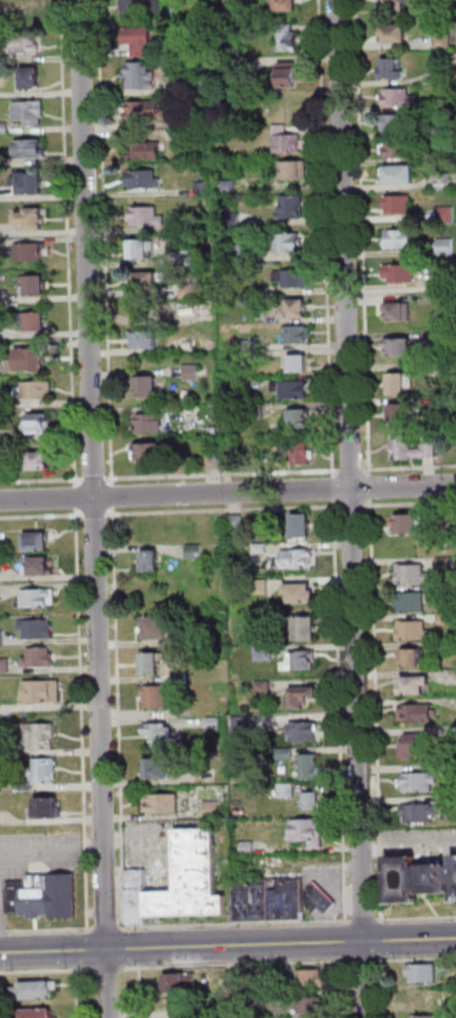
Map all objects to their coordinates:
building: (233, 3)
building: (287, 6)
building: (395, 6)
building: (139, 8)
building: (440, 10)
building: (23, 12)
building: (396, 36)
building: (288, 39)
building: (444, 41)
building: (141, 42)
building: (26, 44)
building: (395, 70)
building: (290, 74)
building: (141, 77)
building: (444, 78)
building: (32, 79)
building: (199, 83)
building: (400, 97)
building: (439, 105)
building: (30, 112)
building: (145, 112)
building: (397, 124)
building: (4, 129)
building: (441, 131)
building: (182, 138)
building: (287, 141)
building: (400, 149)
building: (31, 150)
building: (148, 152)
building: (440, 156)
building: (297, 172)
building: (401, 176)
building: (145, 179)
building: (445, 180)
building: (32, 185)
building: (230, 188)
building: (205, 189)
building: (400, 204)
building: (293, 209)
building: (447, 213)
building: (147, 217)
building: (32, 221)
building: (233, 222)
road: (328, 239)
road: (364, 239)
building: (401, 240)
building: (288, 242)
road: (70, 243)
road: (107, 243)
building: (447, 247)
building: (143, 251)
building: (238, 252)
building: (30, 253)
building: (191, 258)
building: (401, 274)
building: (294, 279)
building: (146, 282)
building: (34, 286)
building: (189, 291)
building: (263, 291)
building: (296, 310)
building: (400, 313)
building: (444, 320)
building: (35, 322)
building: (297, 336)
building: (444, 337)
building: (146, 340)
building: (194, 346)
building: (253, 346)
building: (401, 350)
building: (237, 359)
building: (29, 361)
building: (300, 365)
building: (450, 371)
building: (194, 372)
building: (402, 386)
building: (147, 390)
building: (293, 391)
building: (35, 392)
building: (257, 412)
building: (400, 414)
building: (299, 422)
building: (152, 424)
building: (38, 427)
building: (215, 432)
building: (412, 448)
building: (299, 453)
building: (151, 455)
building: (230, 461)
building: (215, 463)
building: (39, 466)
road: (409, 467)
road: (337, 472)
road: (351, 472)
road: (220, 474)
road: (95, 479)
road: (42, 480)
road: (371, 488)
road: (335, 489)
road: (227, 493)
road: (77, 497)
road: (114, 497)
road: (408, 504)
road: (351, 506)
road: (94, 509)
road: (352, 509)
road: (223, 510)
road: (95, 515)
road: (41, 516)
building: (451, 521)
building: (235, 523)
building: (409, 524)
building: (301, 525)
building: (36, 540)
building: (259, 548)
building: (194, 552)
building: (297, 559)
building: (150, 560)
building: (445, 563)
building: (39, 566)
building: (413, 575)
building: (260, 587)
building: (444, 591)
building: (300, 592)
building: (37, 599)
building: (412, 603)
building: (262, 618)
building: (445, 619)
building: (153, 627)
building: (305, 629)
building: (37, 630)
building: (414, 632)
building: (1, 640)
building: (182, 642)
building: (446, 645)
building: (263, 654)
building: (412, 657)
building: (40, 658)
building: (299, 660)
building: (151, 664)
building: (4, 666)
road: (81, 672)
building: (452, 676)
building: (180, 677)
building: (415, 683)
building: (263, 687)
building: (42, 691)
building: (156, 696)
building: (300, 696)
building: (184, 711)
road: (340, 711)
road: (376, 711)
building: (418, 713)
road: (118, 718)
building: (214, 724)
building: (242, 729)
building: (303, 732)
building: (39, 735)
building: (159, 735)
building: (417, 744)
building: (284, 753)
building: (310, 768)
building: (451, 769)
building: (156, 770)
building: (44, 771)
building: (420, 782)
building: (24, 788)
building: (286, 791)
building: (312, 801)
building: (451, 803)
building: (161, 804)
building: (47, 807)
building: (212, 810)
building: (420, 813)
building: (309, 830)
road: (155, 839)
road: (86, 845)
road: (92, 847)
road: (40, 849)
building: (247, 849)
parking lot: (36, 858)
building: (455, 859)
building: (419, 879)
building: (181, 882)
road: (87, 892)
road: (339, 896)
road: (0, 897)
building: (44, 897)
building: (318, 899)
building: (270, 901)
road: (416, 919)
road: (364, 921)
road: (235, 924)
road: (2, 929)
road: (106, 930)
road: (50, 931)
road: (383, 932)
road: (3, 933)
road: (346, 941)
road: (228, 945)
road: (359, 962)
road: (238, 965)
road: (107, 969)
road: (46, 971)
building: (423, 972)
building: (311, 978)
building: (179, 981)
building: (236, 981)
road: (348, 987)
building: (34, 991)
road: (140, 993)
road: (77, 994)
building: (423, 998)
building: (453, 1005)
building: (312, 1006)
building: (36, 1013)
building: (424, 1016)

